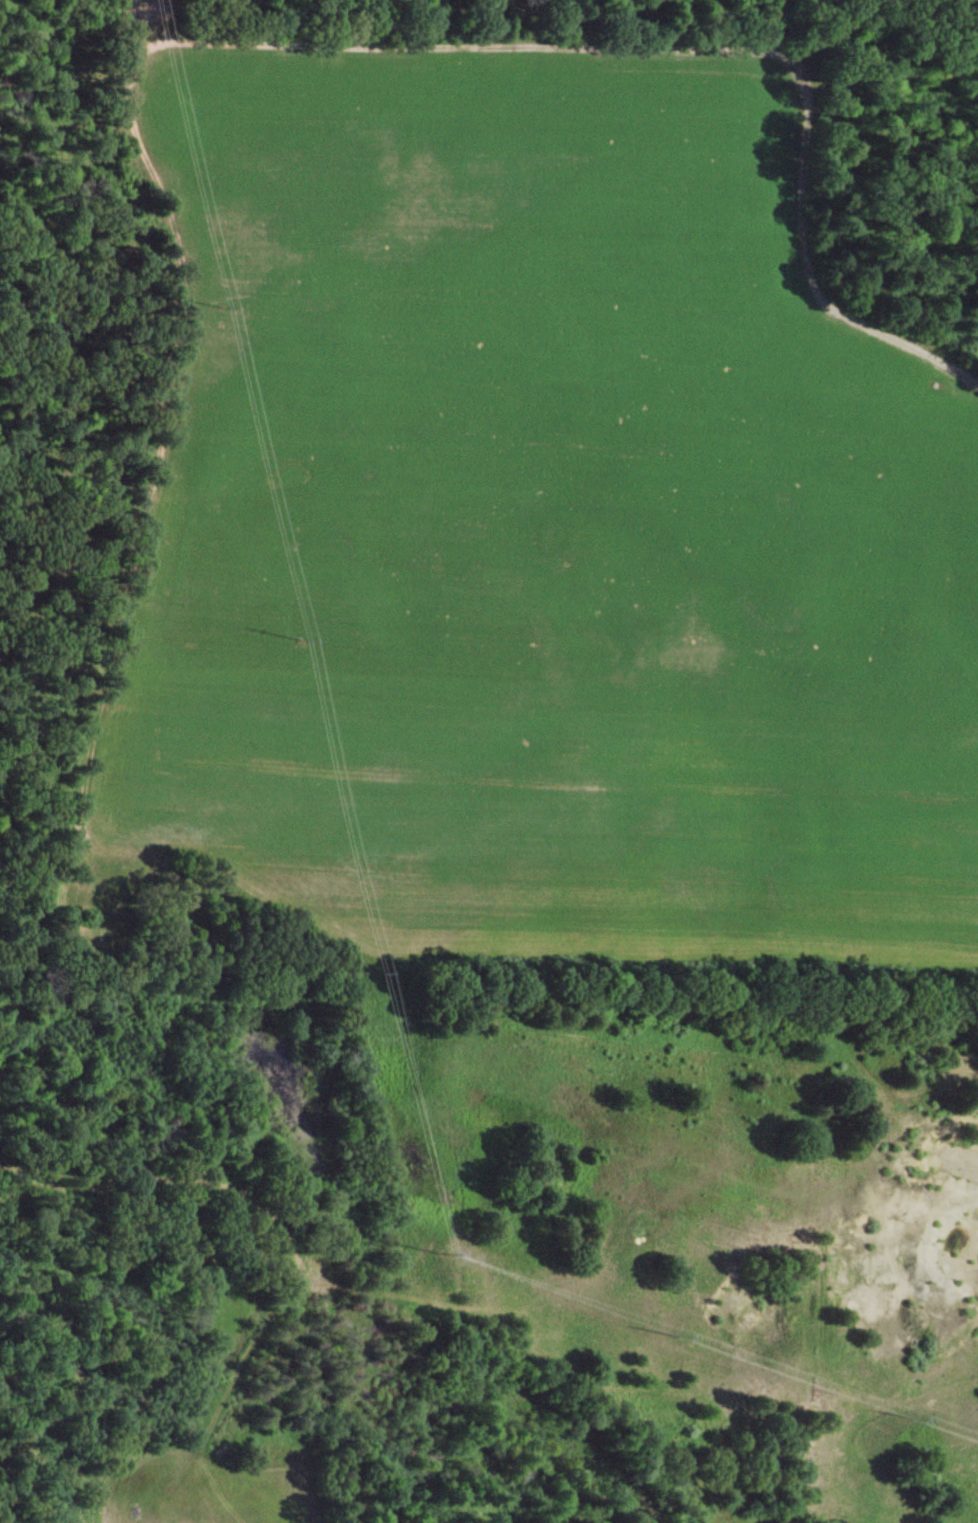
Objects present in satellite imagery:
quarry: (891, 1296)

